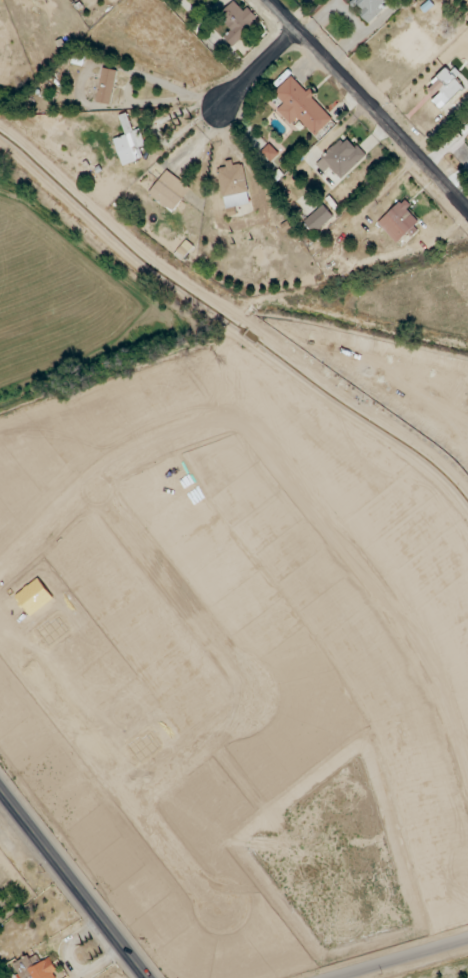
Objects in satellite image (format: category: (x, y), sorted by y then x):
building: (369, 8)
building: (237, 22)
road: (258, 68)
road: (136, 76)
building: (106, 86)
building: (445, 88)
road: (368, 105)
building: (300, 106)
building: (129, 143)
building: (269, 153)
building: (341, 158)
building: (233, 186)
building: (169, 191)
building: (318, 219)
building: (398, 223)
road: (74, 884)
road: (401, 959)
building: (35, 969)

